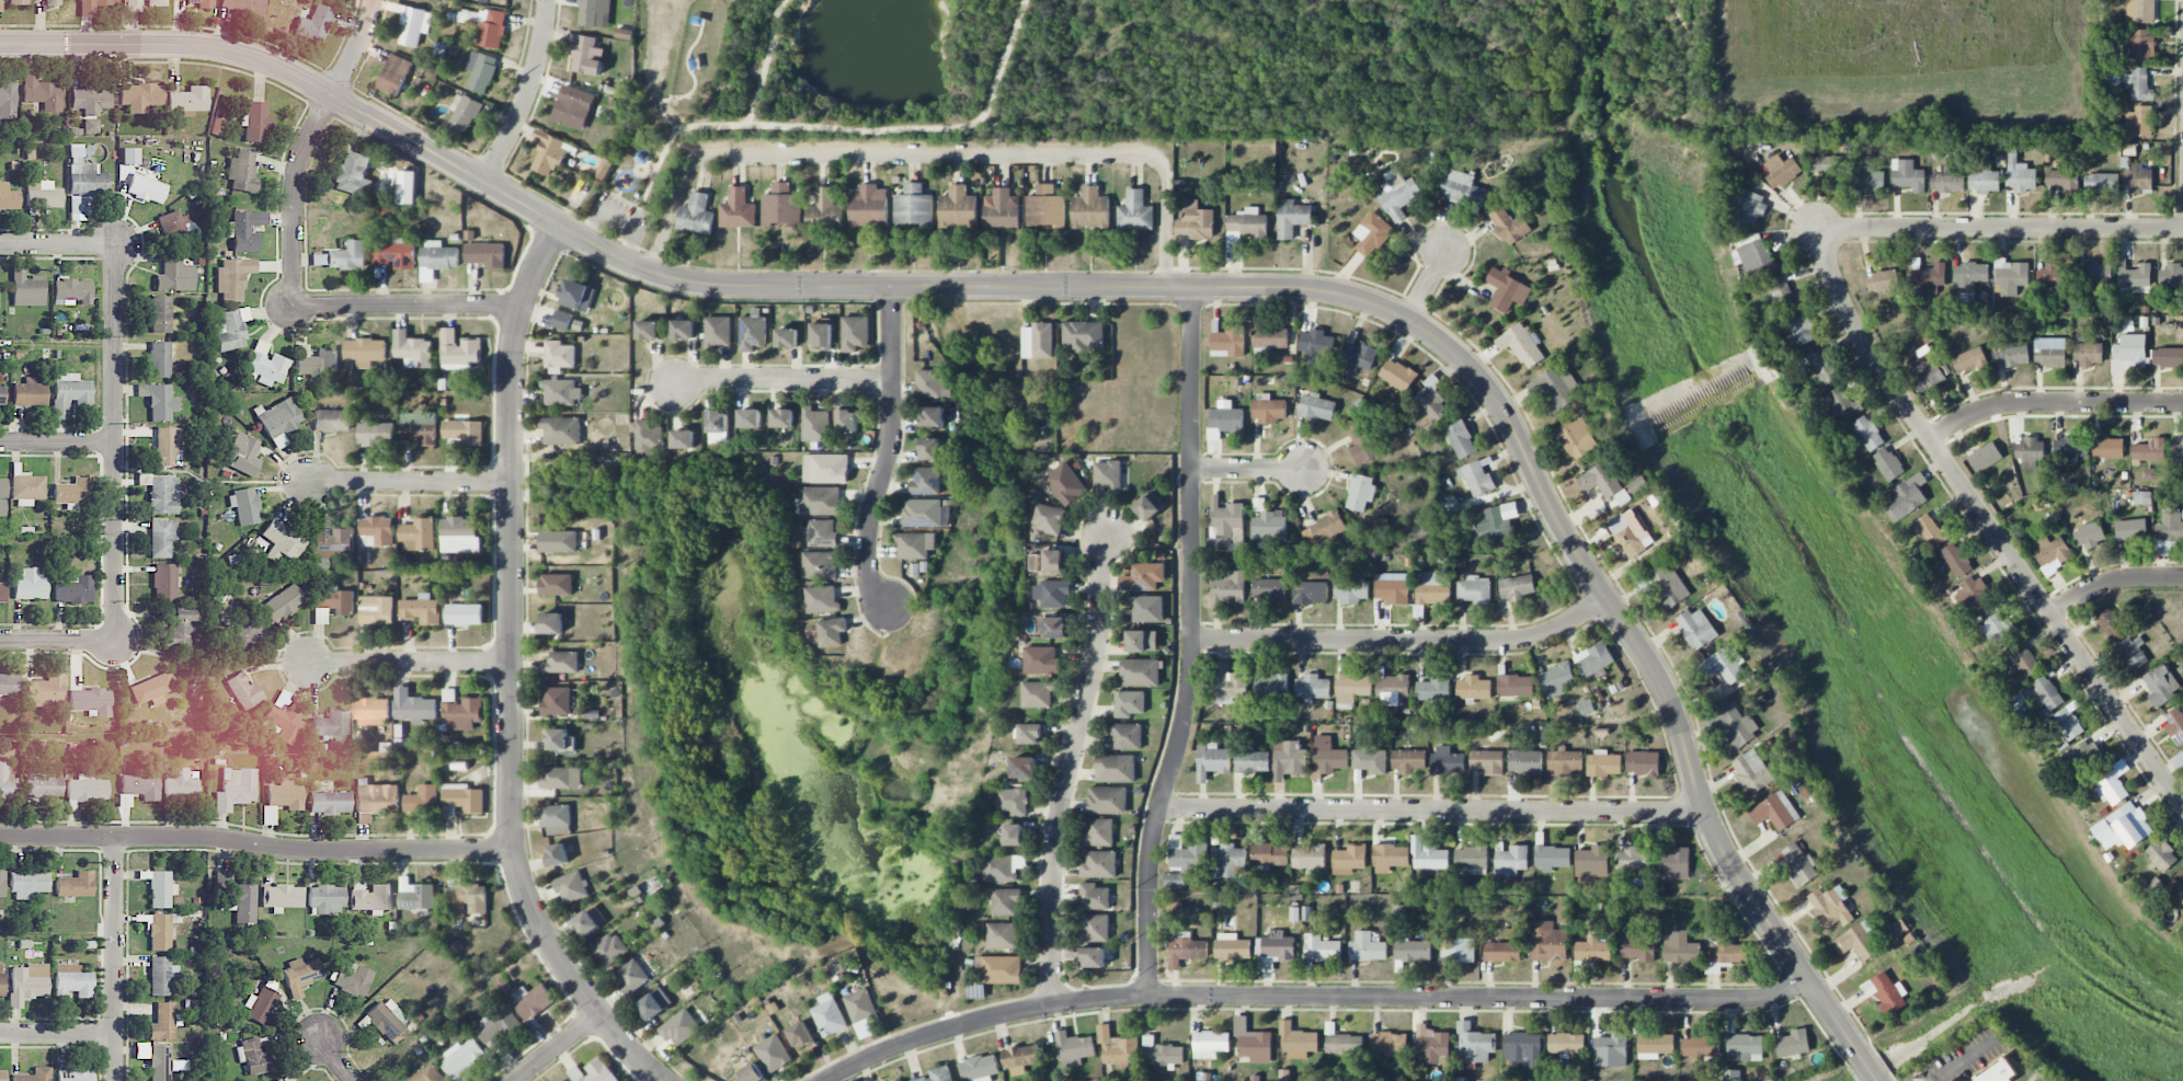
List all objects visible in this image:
building: (11, 2)
building: (53, 2)
building: (142, 4)
building: (205, 4)
building: (93, 5)
building: (244, 5)
building: (2140, 11)
building: (595, 13)
building: (313, 24)
building: (492, 28)
building: (625, 34)
building: (2139, 44)
building: (586, 56)
building: (481, 71)
building: (393, 74)
park: (1147, 74)
building: (2139, 84)
building: (42, 92)
road: (525, 94)
building: (139, 96)
building: (188, 99)
building: (7, 101)
building: (90, 104)
building: (572, 107)
building: (464, 114)
building: (255, 120)
building: (2138, 122)
road: (866, 131)
road: (668, 145)
road: (306, 146)
building: (549, 153)
road: (929, 154)
building: (129, 156)
building: (1827, 164)
building: (604, 169)
building: (242, 171)
building: (1781, 171)
building: (352, 173)
building: (1908, 175)
building: (2020, 175)
building: (1984, 177)
building: (2138, 179)
building: (2062, 180)
building: (1868, 181)
building: (1947, 181)
building: (83, 183)
building: (2101, 183)
building: (407, 187)
building: (146, 188)
building: (1462, 189)
building: (43, 194)
building: (1397, 194)
building: (9, 197)
building: (781, 206)
building: (868, 206)
building: (913, 207)
building: (1045, 207)
building: (958, 208)
building: (1752, 208)
building: (738, 209)
building: (825, 209)
building: (1002, 209)
building: (1090, 209)
building: (1135, 211)
building: (696, 215)
parking lot: (619, 217)
building: (1292, 218)
road: (618, 219)
building: (1195, 222)
building: (173, 226)
building: (1246, 226)
building: (1509, 226)
road: (1999, 228)
building: (245, 230)
building: (1371, 234)
road: (58, 243)
building: (395, 254)
building: (485, 254)
building: (438, 255)
building: (347, 256)
building: (2094, 273)
building: (174, 274)
building: (1930, 275)
building: (2051, 276)
building: (2133, 276)
building: (2171, 276)
building: (233, 277)
building: (2011, 278)
building: (1968, 279)
building: (1882, 281)
road: (1427, 285)
road: (1131, 286)
building: (26, 289)
building: (1507, 289)
building: (72, 290)
building: (1783, 294)
building: (576, 296)
road: (409, 307)
building: (161, 313)
building: (561, 320)
building: (231, 329)
building: (683, 329)
building: (648, 330)
building: (1799, 330)
building: (753, 331)
building: (718, 332)
building: (855, 333)
building: (1268, 334)
building: (821, 335)
building: (1083, 336)
building: (787, 337)
building: (1037, 341)
building: (1228, 342)
building: (1315, 345)
building: (1521, 345)
building: (412, 349)
building: (458, 350)
building: (364, 352)
building: (2050, 352)
building: (2129, 353)
building: (1357, 354)
building: (2088, 354)
building: (559, 355)
building: (2012, 356)
building: (2167, 357)
building: (159, 359)
building: (1968, 359)
building: (265, 364)
building: (1824, 367)
building: (1397, 375)
road: (782, 378)
building: (1929, 379)
building: (932, 384)
building: (1555, 387)
building: (30, 392)
building: (561, 392)
building: (69, 393)
building: (1, 395)
building: (1431, 400)
building: (158, 401)
building: (1844, 404)
road: (2053, 404)
building: (1317, 407)
building: (1268, 409)
building: (933, 416)
building: (750, 418)
building: (782, 418)
building: (278, 419)
building: (1224, 419)
building: (331, 421)
building: (847, 421)
building: (718, 422)
building: (815, 425)
building: (561, 430)
building: (464, 432)
building: (1868, 433)
building: (376, 434)
building: (1578, 438)
building: (645, 439)
building: (683, 439)
building: (1461, 439)
road: (58, 441)
road: (117, 442)
building: (165, 446)
building: (1363, 447)
building: (2070, 448)
building: (2108, 448)
building: (929, 449)
building: (2179, 449)
building: (2149, 450)
road: (890, 452)
building: (2031, 452)
building: (242, 453)
building: (1985, 457)
building: (1889, 462)
building: (825, 469)
road: (1247, 469)
building: (1108, 475)
building: (1477, 476)
building: (1601, 480)
building: (926, 481)
road: (411, 483)
building: (1066, 484)
building: (1638, 485)
building: (27, 486)
building: (73, 491)
building: (1360, 492)
building: (161, 493)
building: (2, 496)
building: (1625, 497)
building: (1906, 498)
building: (820, 501)
building: (244, 505)
building: (1150, 506)
building: (1225, 516)
building: (1048, 519)
building: (1497, 522)
road: (1988, 522)
building: (1269, 527)
building: (378, 529)
building: (2130, 529)
building: (1932, 530)
building: (1322, 531)
building: (822, 532)
building: (2168, 532)
building: (1631, 533)
building: (459, 534)
building: (418, 536)
building: (2090, 536)
building: (162, 538)
building: (331, 540)
building: (282, 541)
building: (559, 541)
building: (914, 544)
building: (1218, 544)
building: (2053, 551)
building: (1956, 559)
building: (1053, 561)
building: (820, 565)
building: (1144, 577)
building: (163, 582)
road: (2113, 582)
building: (28, 584)
building: (557, 585)
building: (1666, 586)
building: (1517, 587)
building: (1228, 588)
building: (1392, 588)
building: (1433, 588)
building: (75, 589)
building: (1349, 589)
building: (1269, 590)
building: (1474, 590)
building: (1310, 591)
building: (2, 593)
building: (1052, 594)
building: (1971, 594)
building: (821, 599)
building: (282, 602)
building: (331, 602)
building: (422, 609)
building: (1147, 609)
building: (376, 610)
building: (464, 614)
building: (552, 623)
building: (2108, 623)
building: (1052, 626)
building: (181, 628)
building: (1997, 628)
building: (1698, 629)
building: (832, 631)
building: (244, 634)
road: (58, 641)
building: (1136, 641)
road: (1405, 641)
road: (1190, 643)
building: (2133, 652)
building: (1595, 659)
building: (1041, 660)
building: (2024, 660)
building: (561, 663)
road: (410, 664)
building: (1725, 666)
road: (510, 672)
building: (1140, 672)
building: (1557, 679)
building: (1228, 683)
building: (9, 685)
building: (1270, 685)
building: (2160, 685)
building: (1394, 686)
building: (1516, 686)
building: (152, 687)
building: (1312, 688)
building: (1433, 688)
building: (1474, 688)
building: (1351, 689)
building: (45, 690)
building: (243, 690)
building: (2046, 692)
building: (1037, 694)
building: (91, 701)
building: (556, 701)
building: (1128, 703)
building: (1586, 708)
building: (415, 710)
building: (370, 711)
building: (462, 714)
building: (282, 720)
building: (330, 724)
building: (2067, 724)
building: (2175, 725)
building: (1738, 726)
building: (1029, 734)
building: (1125, 736)
building: (1542, 736)
building: (558, 739)
building: (1327, 757)
building: (2084, 757)
building: (1289, 759)
building: (1408, 760)
building: (1565, 760)
building: (1212, 761)
building: (1251, 761)
building: (1370, 761)
building: (1448, 761)
building: (1487, 761)
building: (1525, 762)
building: (1603, 763)
building: (1643, 763)
building: (1024, 768)
road: (1067, 768)
building: (1115, 768)
building: (1752, 771)
building: (560, 778)
building: (7, 784)
building: (181, 784)
building: (141, 785)
building: (44, 786)
building: (236, 787)
building: (85, 790)
building: (2111, 790)
building: (284, 797)
building: (375, 800)
building: (422, 800)
building: (461, 800)
building: (1107, 800)
building: (330, 802)
building: (1013, 802)
road: (1432, 812)
building: (1774, 812)
building: (557, 819)
building: (2123, 827)
building: (1099, 832)
building: (1014, 833)
road: (256, 843)
building: (557, 854)
building: (1187, 854)
building: (1269, 854)
building: (1427, 855)
building: (2161, 855)
building: (1308, 856)
building: (1390, 858)
building: (1552, 858)
building: (1227, 859)
building: (1509, 859)
building: (1349, 860)
building: (1471, 860)
building: (1633, 860)
building: (1592, 864)
building: (1673, 864)
building: (1098, 865)
building: (1799, 865)
building: (998, 869)
building: (1175, 881)
building: (2, 883)
building: (28, 884)
building: (76, 885)
building: (2176, 886)
building: (159, 887)
building: (572, 887)
building: (415, 896)
building: (237, 897)
building: (282, 897)
building: (370, 897)
building: (1094, 897)
building: (466, 898)
building: (325, 899)
building: (1006, 901)
building: (1832, 906)
building: (590, 921)
building: (1095, 927)
building: (1898, 928)
building: (160, 932)
building: (1002, 935)
building: (1858, 941)
building: (1547, 942)
building: (1639, 945)
building: (1232, 946)
building: (1278, 946)
building: (1367, 947)
building: (1322, 948)
building: (1459, 948)
building: (1681, 948)
building: (608, 950)
building: (1728, 950)
building: (1187, 951)
building: (1413, 951)
building: (1592, 951)
building: (1502, 952)
building: (1093, 957)
road: (116, 959)
building: (998, 969)
building: (161, 975)
building: (300, 975)
building: (631, 976)
building: (351, 978)
building: (1, 979)
building: (27, 982)
building: (71, 982)
building: (1886, 993)
road: (1313, 998)
building: (533, 1000)
building: (654, 1003)
building: (260, 1004)
building: (859, 1007)
building: (828, 1015)
building: (387, 1019)
building: (164, 1022)
building: (499, 1027)
building: (679, 1028)
building: (1104, 1034)
road: (58, 1035)
building: (800, 1035)
building: (1298, 1042)
building: (1388, 1043)
building: (1475, 1043)
building: (1210, 1044)
building: (1345, 1044)
building: (1566, 1044)
building: (1793, 1044)
building: (1654, 1045)
building: (1432, 1046)
road: (557, 1047)
building: (1257, 1047)
building: (1073, 1048)
building: (1698, 1048)
building: (1745, 1048)
building: (1523, 1050)
building: (1611, 1050)
building: (1121, 1051)
building: (1162, 1053)
building: (773, 1054)
building: (1020, 1056)
building: (461, 1057)
building: (254, 1058)
road: (336, 1060)
road: (1961, 1060)
building: (159, 1062)
building: (980, 1068)
building: (593, 1071)
building: (1999, 1072)
building: (752, 1073)
building: (2, 1074)
building: (75, 1074)
building: (428, 1074)
building: (938, 1074)
building: (1731, 1074)
building: (34, 1076)
building: (278, 1079)
building: (900, 1080)
building: (1951, 1080)

